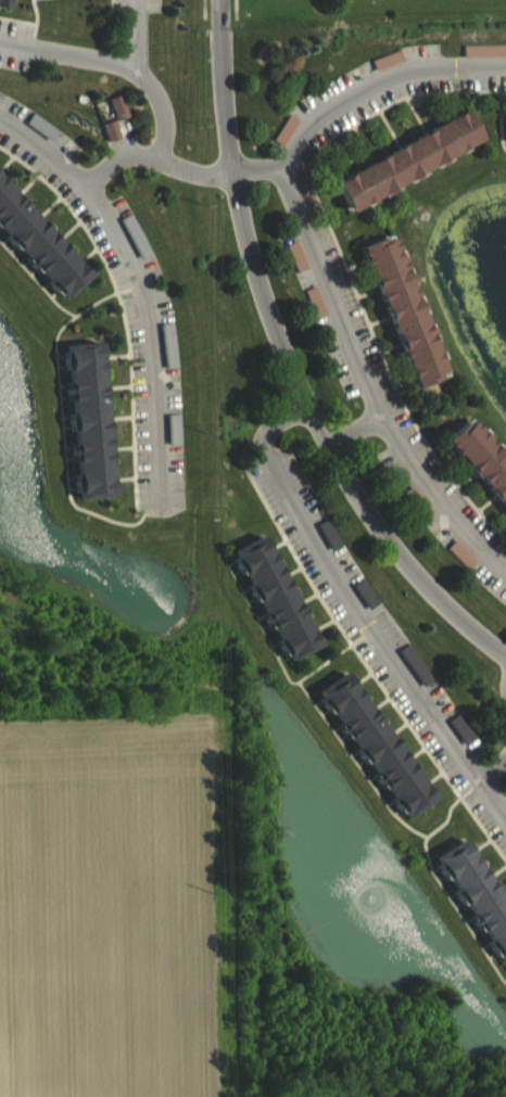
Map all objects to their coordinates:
building: (344, 0)
road: (203, 8)
building: (3, 9)
road: (68, 53)
road: (148, 81)
building: (115, 119)
building: (107, 142)
road: (295, 151)
building: (404, 173)
building: (37, 256)
road: (134, 281)
building: (401, 322)
road: (288, 362)
road: (371, 382)
road: (353, 424)
building: (85, 432)
building: (479, 471)
road: (358, 609)
building: (271, 610)
building: (371, 757)
road: (490, 770)
building: (475, 908)

